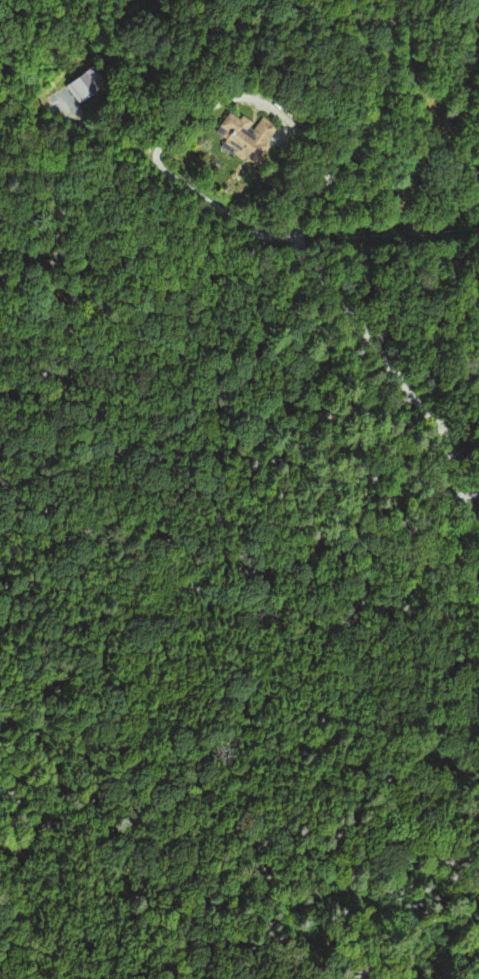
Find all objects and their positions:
building: (83, 83)
road: (237, 96)
road: (98, 132)
building: (247, 135)
road: (220, 210)
road: (301, 254)
road: (471, 488)
road: (472, 535)
road: (467, 545)

